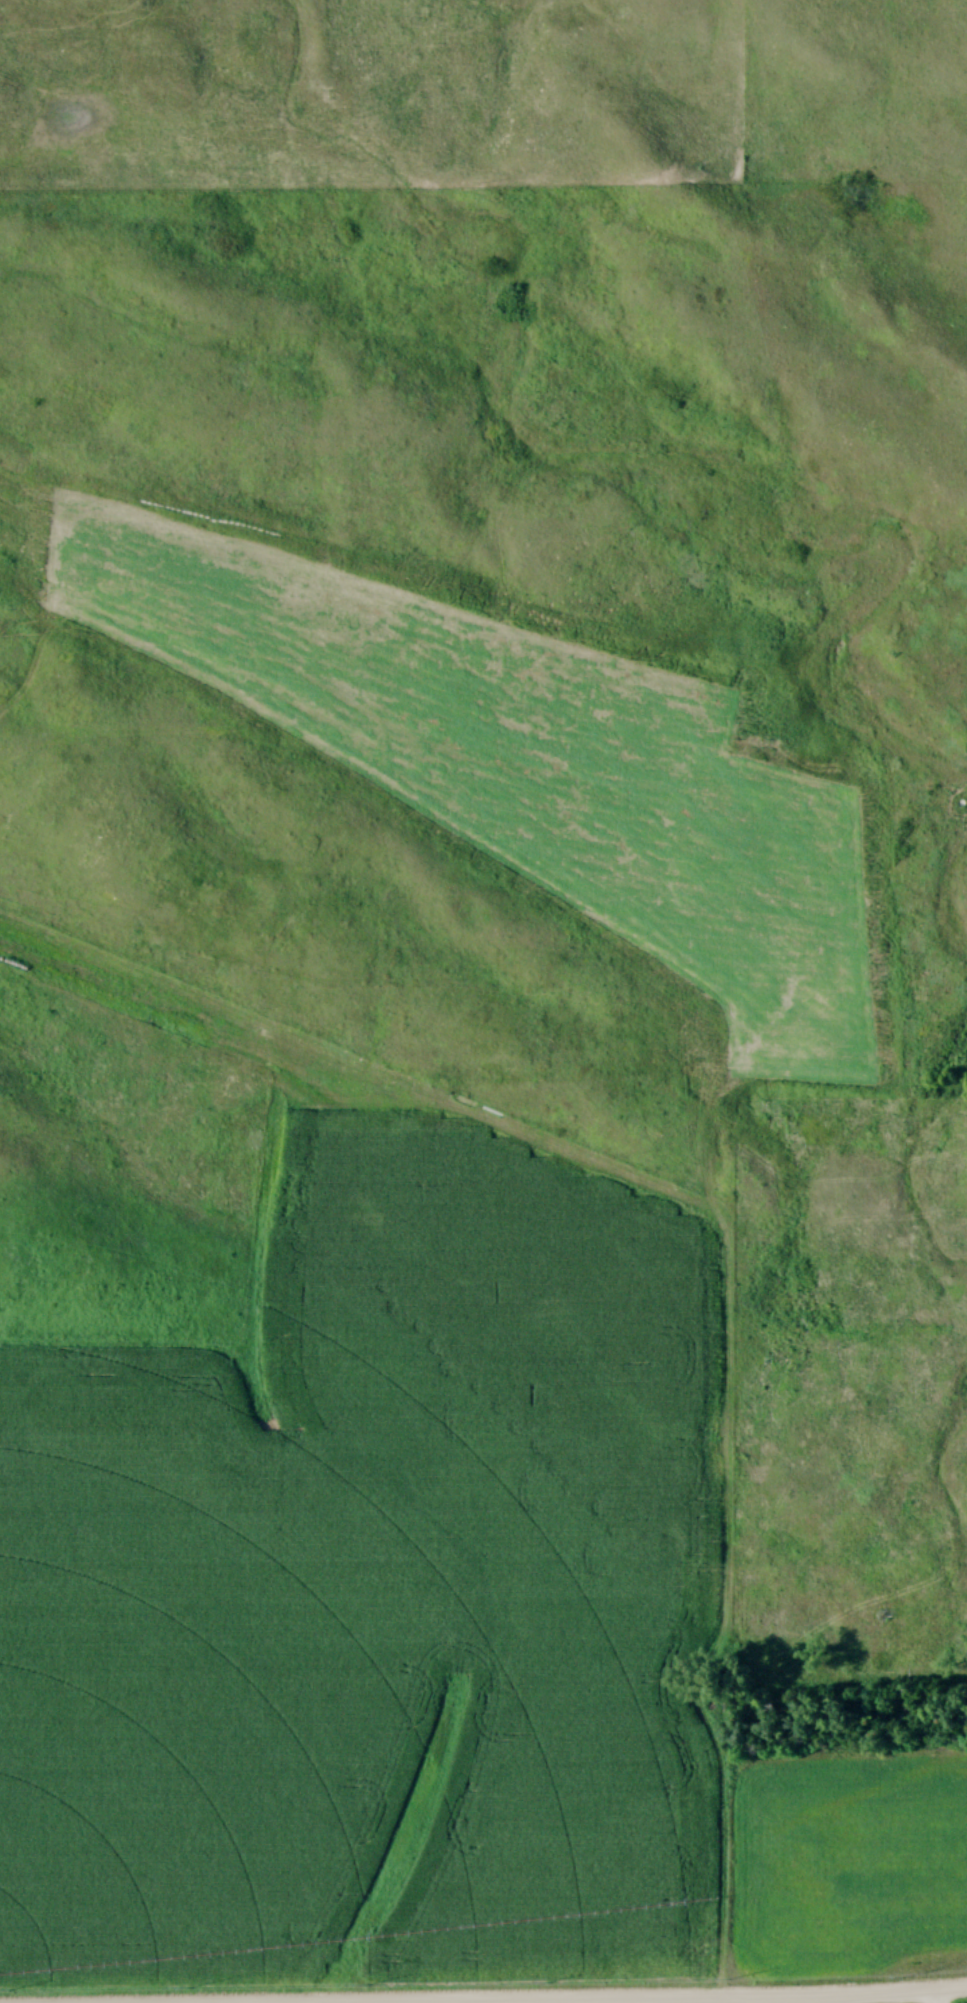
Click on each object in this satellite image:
road: (940, 1997)
road: (821, 1998)

